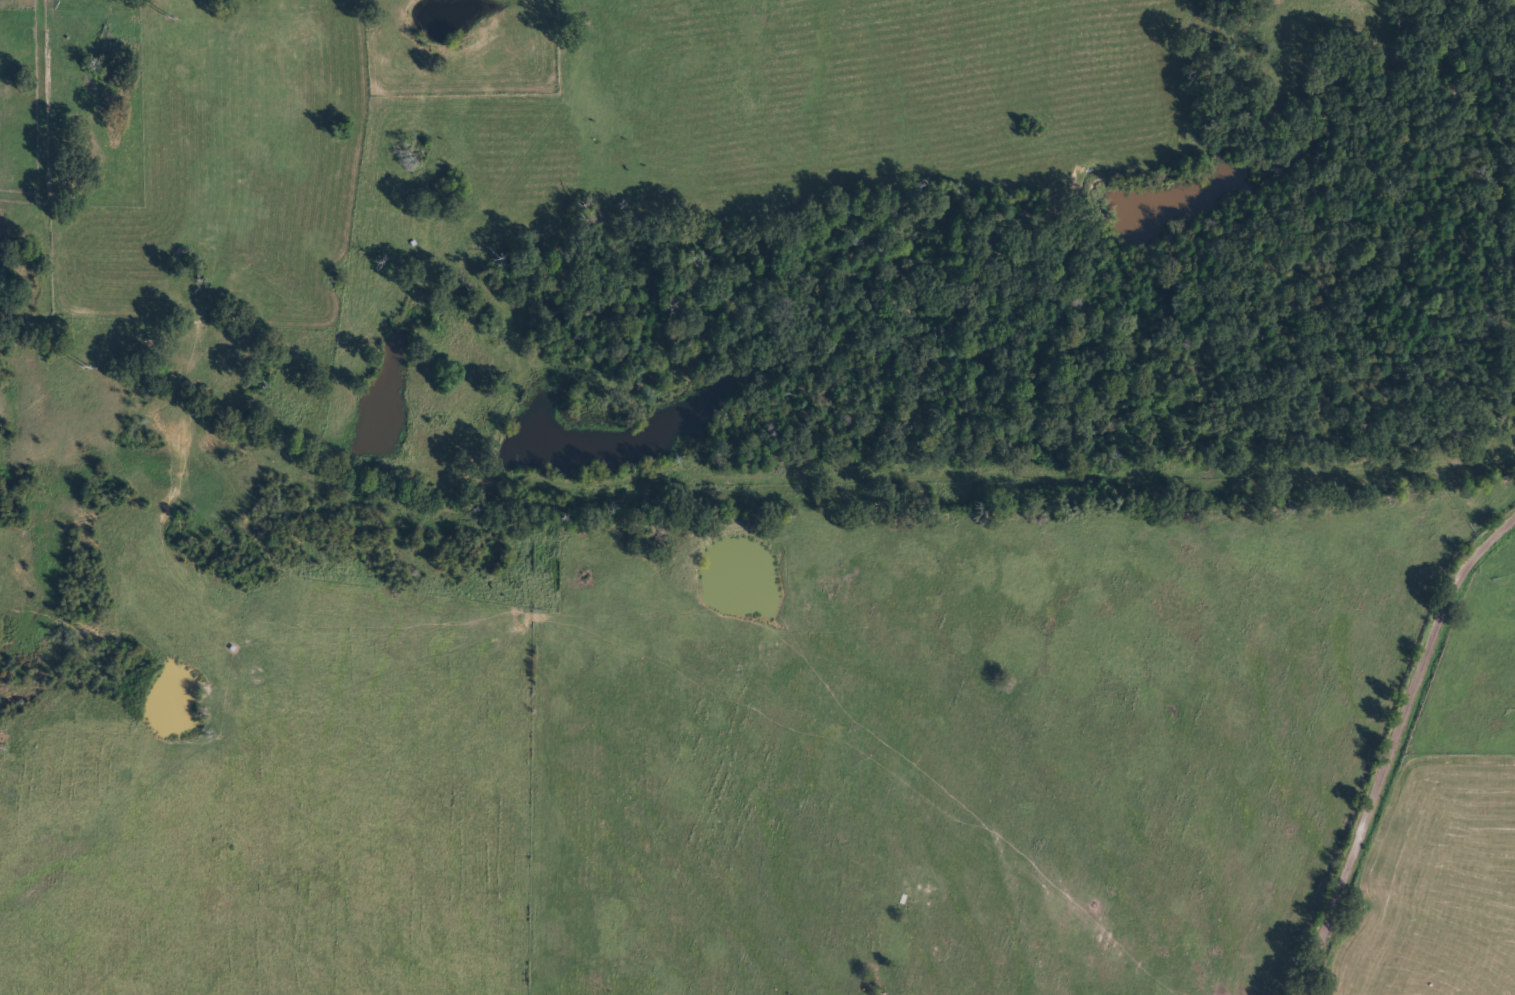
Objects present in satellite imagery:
road: (82, 167)
power tower: (95, 368)
road: (703, 496)
road: (1376, 727)

